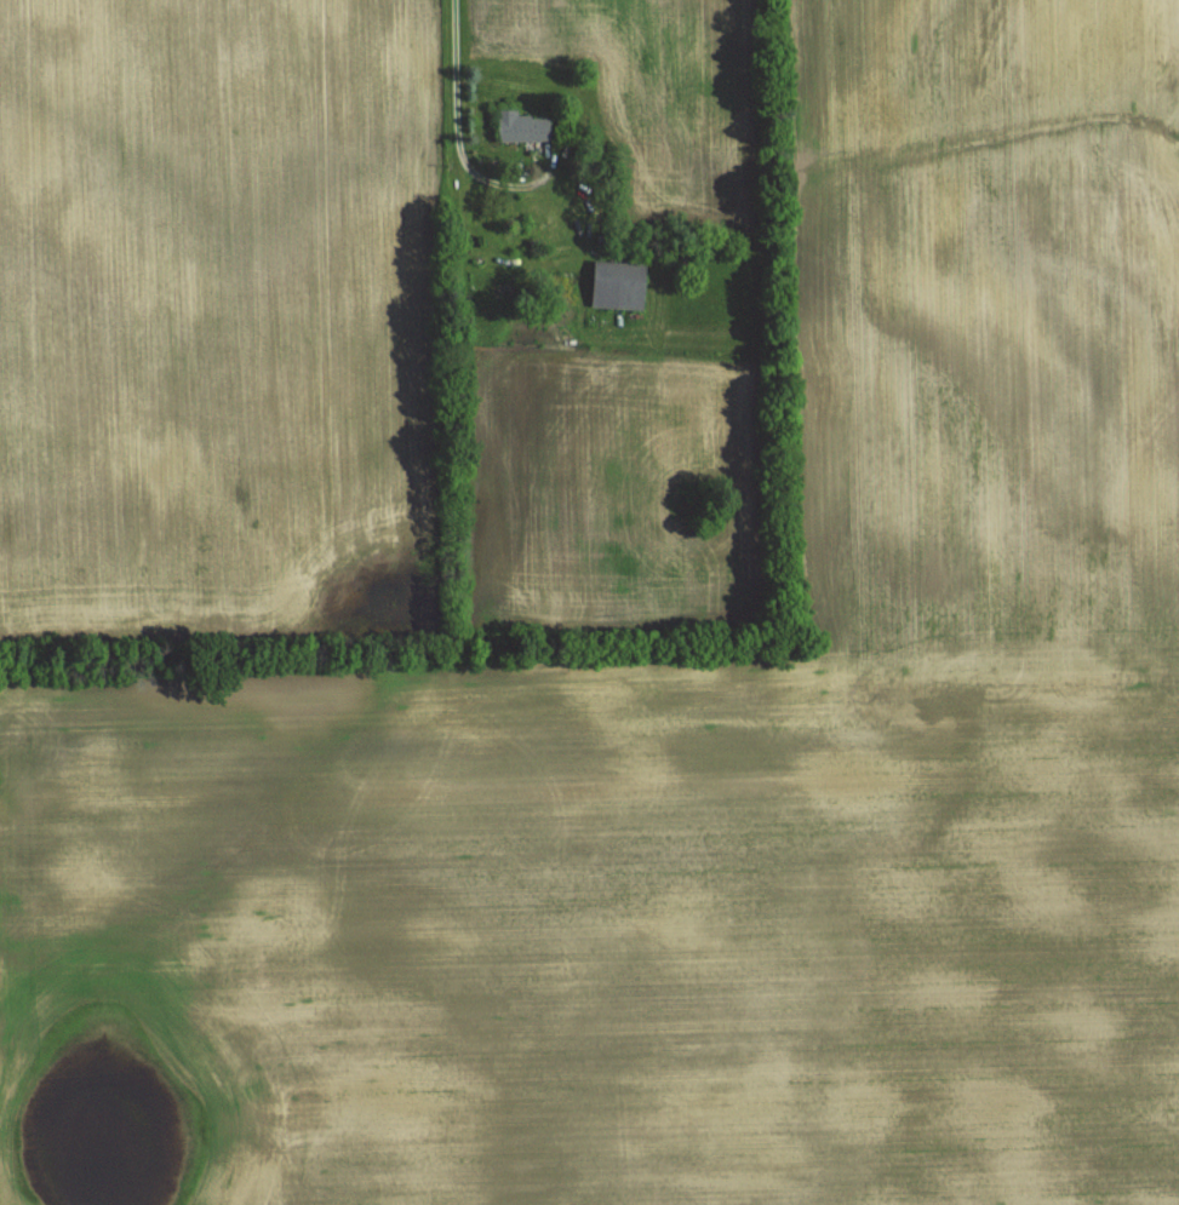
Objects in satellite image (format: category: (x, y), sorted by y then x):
road: (460, 127)
building: (522, 127)
building: (619, 285)

